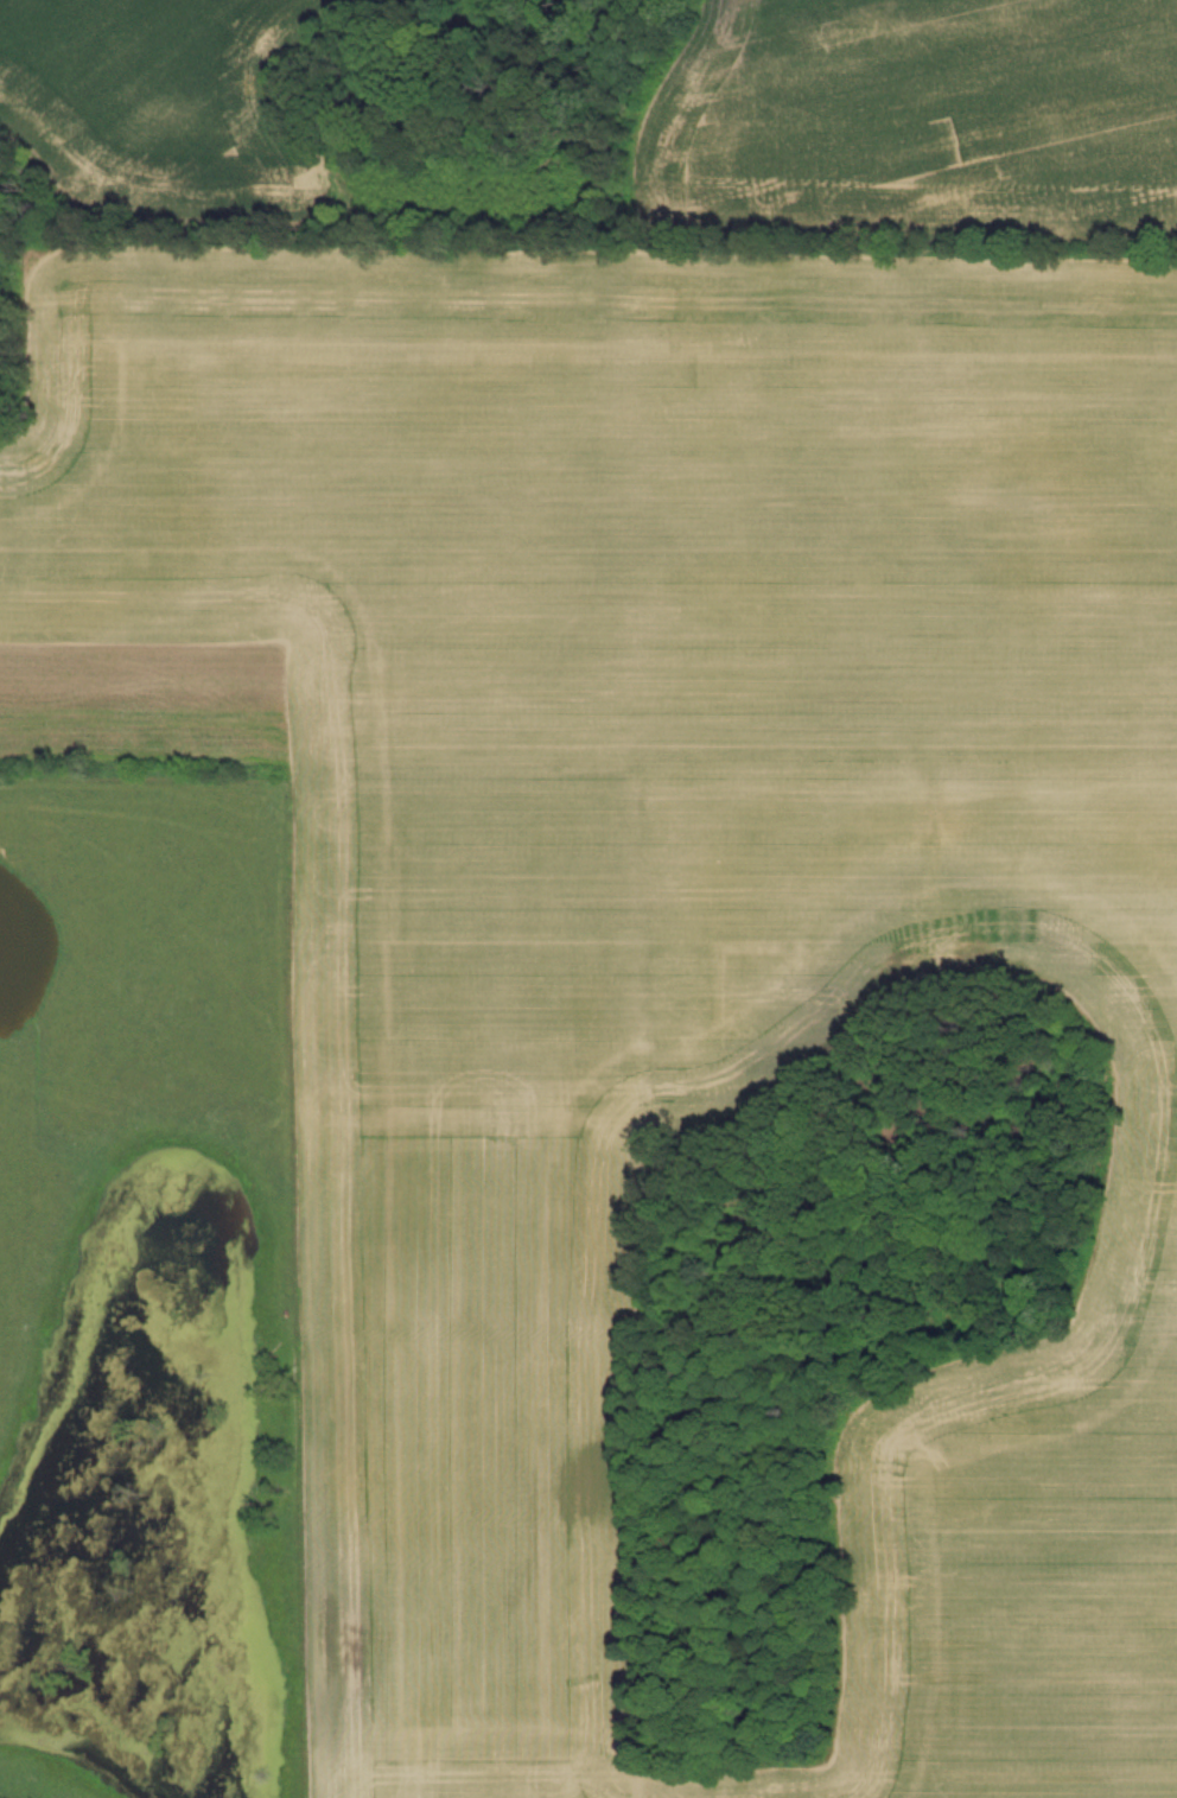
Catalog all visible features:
crop: (165, 100)
crop: (921, 120)
crop: (720, 763)
crop: (481, 1277)

